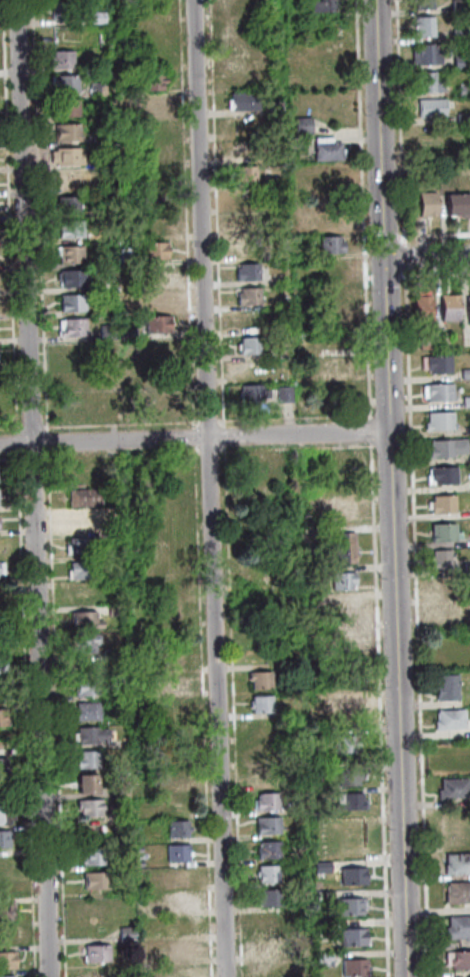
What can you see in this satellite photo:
building: (422, 4)
building: (323, 5)
building: (456, 6)
building: (62, 10)
building: (96, 16)
building: (422, 26)
building: (456, 35)
building: (329, 50)
building: (425, 54)
building: (59, 59)
building: (458, 61)
building: (150, 80)
building: (63, 82)
building: (425, 82)
building: (96, 88)
building: (463, 91)
building: (242, 101)
building: (152, 104)
building: (273, 106)
building: (65, 107)
building: (429, 108)
building: (462, 118)
road: (398, 122)
building: (302, 123)
building: (65, 132)
building: (98, 139)
building: (326, 150)
building: (66, 156)
building: (157, 156)
building: (100, 163)
building: (423, 170)
building: (97, 174)
building: (244, 174)
building: (69, 183)
building: (331, 185)
building: (157, 193)
building: (246, 199)
building: (424, 203)
building: (67, 204)
building: (455, 204)
road: (362, 209)
road: (184, 210)
building: (99, 212)
road: (215, 213)
road: (38, 215)
building: (333, 216)
road: (8, 217)
building: (247, 221)
building: (156, 225)
building: (70, 228)
road: (433, 235)
road: (389, 237)
building: (330, 244)
building: (245, 247)
building: (153, 250)
building: (68, 253)
road: (402, 257)
road: (426, 257)
traffic signals: (384, 259)
building: (336, 268)
building: (247, 271)
building: (155, 274)
road: (433, 275)
building: (71, 278)
road: (383, 278)
road: (367, 279)
building: (100, 284)
building: (337, 293)
building: (247, 296)
building: (156, 299)
building: (71, 302)
building: (419, 306)
building: (446, 307)
building: (467, 308)
building: (157, 323)
building: (249, 323)
building: (70, 327)
building: (105, 331)
building: (127, 332)
building: (439, 340)
building: (424, 343)
building: (249, 345)
building: (75, 351)
building: (283, 351)
building: (436, 364)
building: (335, 366)
building: (464, 374)
building: (75, 375)
building: (437, 392)
building: (250, 393)
building: (283, 394)
building: (167, 399)
building: (465, 401)
building: (77, 402)
building: (110, 405)
road: (328, 416)
road: (219, 420)
building: (438, 420)
road: (207, 421)
road: (119, 423)
road: (288, 423)
road: (8, 427)
road: (29, 427)
building: (468, 428)
road: (369, 431)
road: (222, 435)
road: (194, 436)
road: (45, 441)
road: (16, 445)
building: (444, 448)
road: (111, 449)
road: (75, 456)
building: (468, 456)
road: (29, 458)
road: (9, 459)
building: (259, 462)
building: (82, 470)
building: (440, 475)
building: (469, 484)
road: (32, 488)
road: (208, 488)
road: (390, 488)
building: (82, 497)
building: (441, 504)
building: (338, 511)
building: (78, 521)
building: (441, 532)
building: (79, 545)
building: (343, 547)
building: (439, 560)
building: (466, 567)
building: (0, 568)
building: (79, 569)
building: (341, 581)
building: (172, 586)
building: (440, 588)
building: (468, 595)
building: (0, 596)
building: (311, 599)
building: (341, 608)
building: (112, 610)
building: (172, 612)
building: (446, 614)
building: (82, 620)
road: (415, 622)
building: (342, 643)
building: (80, 644)
building: (110, 655)
building: (174, 658)
building: (1, 665)
building: (259, 680)
building: (171, 683)
building: (85, 687)
building: (449, 688)
building: (139, 690)
building: (259, 704)
building: (176, 707)
road: (378, 709)
road: (232, 710)
building: (345, 710)
building: (85, 711)
road: (54, 714)
road: (24, 716)
building: (2, 717)
building: (449, 719)
building: (263, 728)
building: (89, 735)
building: (343, 744)
building: (176, 752)
building: (266, 754)
building: (84, 760)
building: (124, 765)
building: (1, 767)
building: (114, 767)
building: (267, 777)
building: (349, 778)
building: (179, 779)
building: (83, 784)
building: (119, 788)
building: (451, 788)
building: (348, 801)
building: (265, 802)
building: (176, 804)
building: (87, 808)
building: (4, 815)
building: (355, 823)
building: (265, 825)
building: (455, 827)
building: (175, 829)
building: (3, 838)
road: (211, 838)
building: (354, 843)
building: (137, 849)
building: (266, 850)
building: (175, 853)
building: (92, 856)
building: (6, 862)
building: (456, 863)
building: (139, 864)
building: (321, 866)
building: (266, 873)
building: (178, 876)
building: (351, 876)
building: (94, 881)
building: (317, 887)
building: (457, 892)
building: (322, 896)
building: (269, 898)
building: (177, 901)
building: (349, 906)
road: (206, 907)
building: (142, 908)
building: (5, 911)
building: (268, 921)
building: (179, 925)
building: (322, 926)
building: (457, 927)
building: (7, 934)
building: (125, 934)
building: (351, 937)
building: (267, 947)
building: (178, 950)
building: (95, 953)
building: (300, 953)
building: (323, 959)
building: (457, 959)
building: (6, 960)
building: (146, 961)
building: (352, 968)
building: (180, 971)
building: (95, 973)
building: (146, 974)
building: (8, 976)

